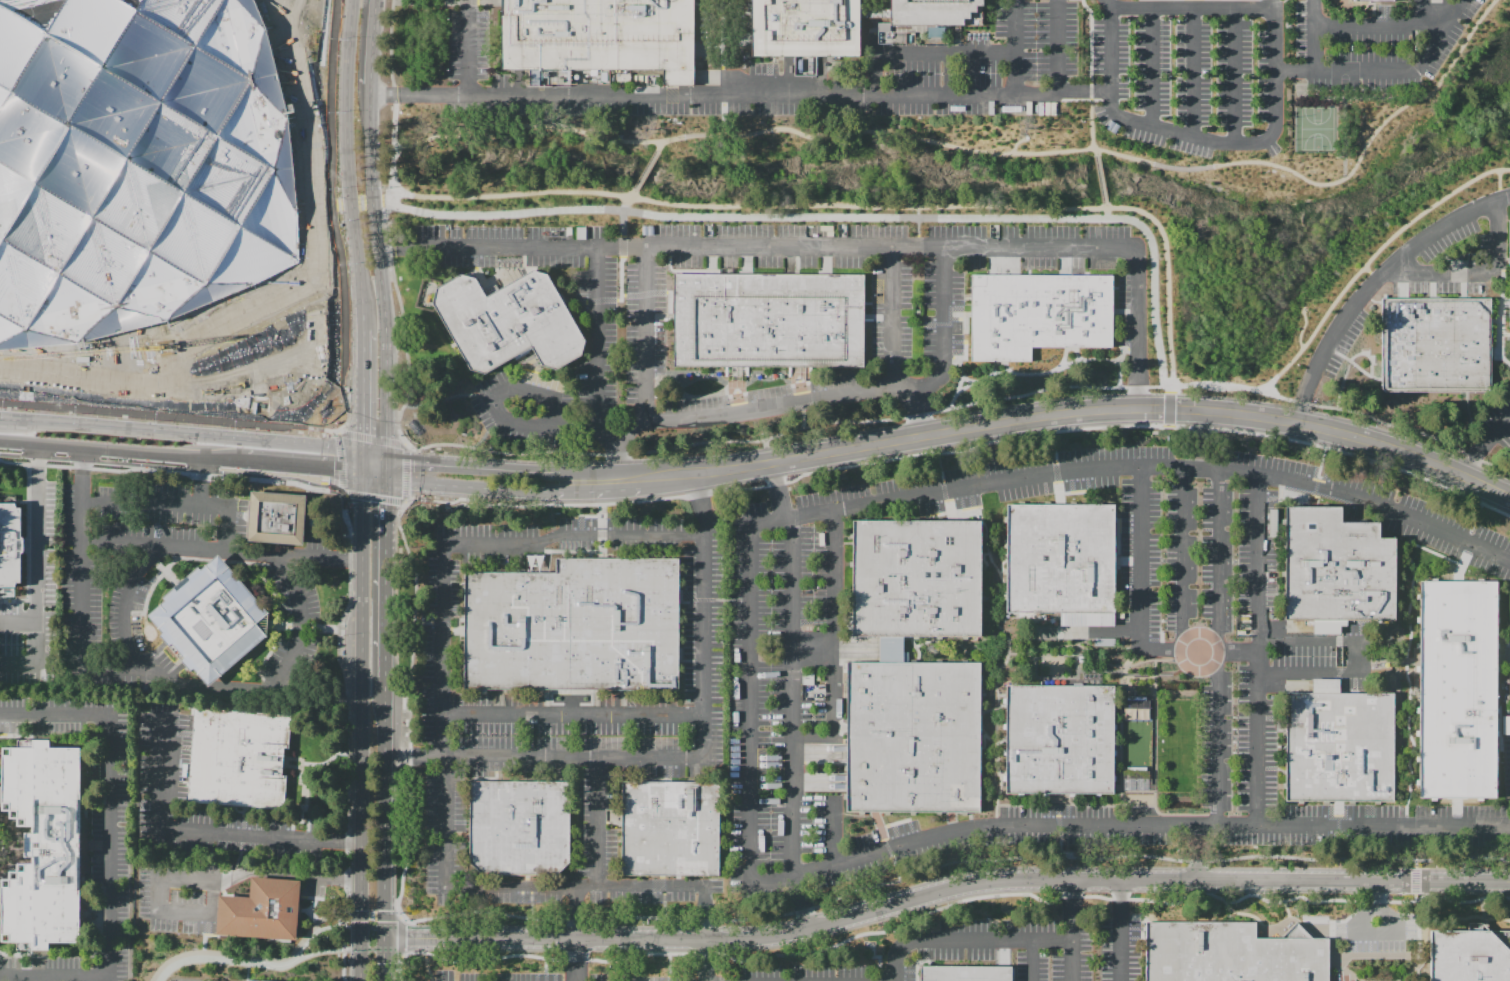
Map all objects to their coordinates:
building: (1368, 0)
road: (491, 1)
road: (473, 2)
road: (419, 3)
road: (1242, 7)
road: (1372, 9)
building: (937, 12)
road: (1418, 13)
building: (875, 14)
road: (1379, 26)
building: (806, 28)
road: (881, 31)
road: (372, 33)
building: (600, 36)
road: (874, 36)
road: (708, 46)
road: (467, 47)
road: (723, 48)
road: (947, 53)
road: (1151, 66)
road: (1386, 68)
parking lot: (1058, 69)
road: (1192, 71)
road: (1088, 74)
road: (1234, 74)
road: (1085, 86)
road: (759, 96)
road: (1370, 98)
road: (1317, 102)
park: (1378, 117)
road: (1345, 126)
park: (1316, 129)
road: (1172, 131)
road: (1319, 155)
road: (345, 156)
building: (137, 164)
road: (1346, 167)
road: (392, 173)
road: (461, 196)
road: (371, 201)
road: (349, 202)
road: (361, 202)
road: (338, 203)
road: (331, 204)
road: (327, 205)
road: (326, 209)
road: (1106, 214)
road: (386, 215)
road: (853, 217)
road: (333, 218)
road: (623, 221)
road: (918, 227)
road: (516, 245)
road: (621, 246)
road: (835, 246)
road: (406, 248)
road: (378, 260)
road: (1473, 271)
building: (1509, 275)
road: (1374, 283)
road: (1431, 285)
road: (1463, 285)
road: (1402, 286)
parking lot: (1367, 293)
road: (579, 301)
road: (1504, 304)
road: (1125, 311)
road: (1501, 312)
road: (957, 314)
building: (1038, 314)
road: (891, 315)
road: (659, 317)
road: (877, 317)
building: (768, 320)
road: (1371, 320)
building: (508, 322)
road: (965, 332)
road: (1505, 334)
parking lot: (891, 340)
building: (1434, 345)
road: (596, 349)
road: (1076, 351)
road: (1064, 357)
road: (1120, 358)
road: (1503, 358)
road: (1004, 363)
road: (1350, 363)
road: (1353, 363)
road: (995, 366)
road: (962, 367)
road: (554, 373)
road: (1025, 374)
road: (361, 380)
road: (529, 380)
road: (968, 380)
road: (1138, 387)
road: (1171, 391)
road: (858, 392)
road: (799, 393)
road: (1028, 393)
road: (684, 394)
road: (1265, 400)
road: (1301, 402)
road: (737, 404)
road: (166, 407)
road: (739, 409)
traffic signals: (361, 412)
road: (500, 412)
road: (916, 412)
road: (1079, 412)
road: (918, 414)
road: (173, 416)
road: (338, 417)
road: (346, 418)
road: (372, 422)
road: (1470, 422)
parking lot: (1499, 423)
road: (328, 424)
road: (1390, 424)
road: (370, 430)
road: (180, 433)
road: (327, 434)
road: (426, 437)
road: (769, 438)
road: (1201, 439)
road: (438, 443)
road: (425, 444)
road: (1483, 445)
road: (417, 448)
road: (115, 449)
road: (425, 449)
road: (373, 451)
road: (497, 452)
road: (766, 452)
road: (618, 454)
road: (324, 456)
road: (333, 456)
road: (1474, 458)
road: (361, 460)
traffic signals: (432, 460)
road: (385, 463)
road: (295, 464)
road: (470, 464)
traffic signals: (317, 466)
road: (1152, 466)
road: (174, 467)
road: (1495, 467)
road: (414, 470)
road: (423, 470)
road: (599, 471)
road: (173, 472)
road: (373, 472)
road: (1057, 477)
road: (322, 479)
road: (1062, 482)
road: (330, 483)
road: (470, 484)
road: (322, 485)
road: (322, 488)
road: (598, 488)
road: (777, 490)
road: (375, 491)
road: (422, 491)
road: (413, 495)
road: (421, 495)
road: (449, 495)
road: (675, 496)
road: (945, 496)
road: (374, 497)
road: (421, 499)
road: (162, 501)
road: (953, 501)
road: (405, 502)
traffic signals: (384, 504)
road: (986, 507)
building: (281, 518)
road: (602, 533)
building: (10, 543)
road: (470, 543)
road: (983, 543)
road: (187, 548)
road: (35, 550)
road: (556, 552)
road: (989, 552)
road: (1140, 558)
road: (318, 559)
building: (1060, 559)
building: (601, 561)
parking lot: (132, 566)
building: (1335, 567)
road: (384, 574)
building: (915, 578)
road: (81, 581)
road: (992, 594)
building: (1087, 619)
building: (210, 620)
road: (459, 620)
road: (436, 623)
parking lot: (293, 624)
road: (988, 625)
road: (302, 627)
building: (574, 627)
road: (1097, 632)
road: (464, 636)
road: (956, 644)
road: (834, 645)
road: (1009, 645)
road: (1181, 646)
road: (1218, 647)
building: (891, 649)
road: (916, 649)
road: (813, 650)
road: (1257, 650)
road: (1198, 651)
parking lot: (1508, 656)
road: (1358, 657)
parking lot: (1267, 673)
road: (233, 684)
road: (996, 688)
building: (1458, 690)
road: (792, 697)
road: (992, 709)
road: (749, 711)
road: (572, 714)
parking lot: (29, 715)
road: (360, 726)
road: (342, 736)
building: (912, 737)
building: (1059, 740)
building: (1339, 747)
road: (817, 752)
road: (683, 757)
building: (242, 759)
parking lot: (164, 763)
parking lot: (1506, 766)
road: (294, 767)
road: (1002, 774)
road: (999, 777)
road: (817, 782)
road: (307, 797)
road: (233, 806)
road: (876, 812)
road: (954, 812)
road: (1064, 815)
road: (597, 820)
road: (1059, 820)
road: (244, 825)
road: (1148, 825)
road: (293, 826)
road: (953, 827)
road: (383, 828)
building: (519, 828)
building: (670, 828)
parking lot: (104, 830)
road: (208, 833)
road: (833, 833)
building: (41, 844)
road: (887, 844)
road: (109, 845)
road: (1198, 852)
road: (222, 881)
road: (539, 887)
road: (943, 892)
parking lot: (181, 894)
road: (1377, 894)
road: (799, 902)
building: (261, 910)
road: (576, 912)
road: (378, 919)
road: (350, 929)
road: (1331, 930)
road: (1073, 931)
road: (1120, 931)
parking lot: (1380, 931)
road: (319, 933)
road: (966, 938)
road: (1354, 942)
parking lot: (1122, 947)
road: (356, 950)
building: (1232, 953)
building: (1469, 956)
road: (576, 960)
road: (1032, 960)
road: (224, 962)
road: (1379, 964)
parking lot: (28, 968)
road: (249, 972)
building: (966, 974)
parking lot: (184, 980)
building: (252, 980)

